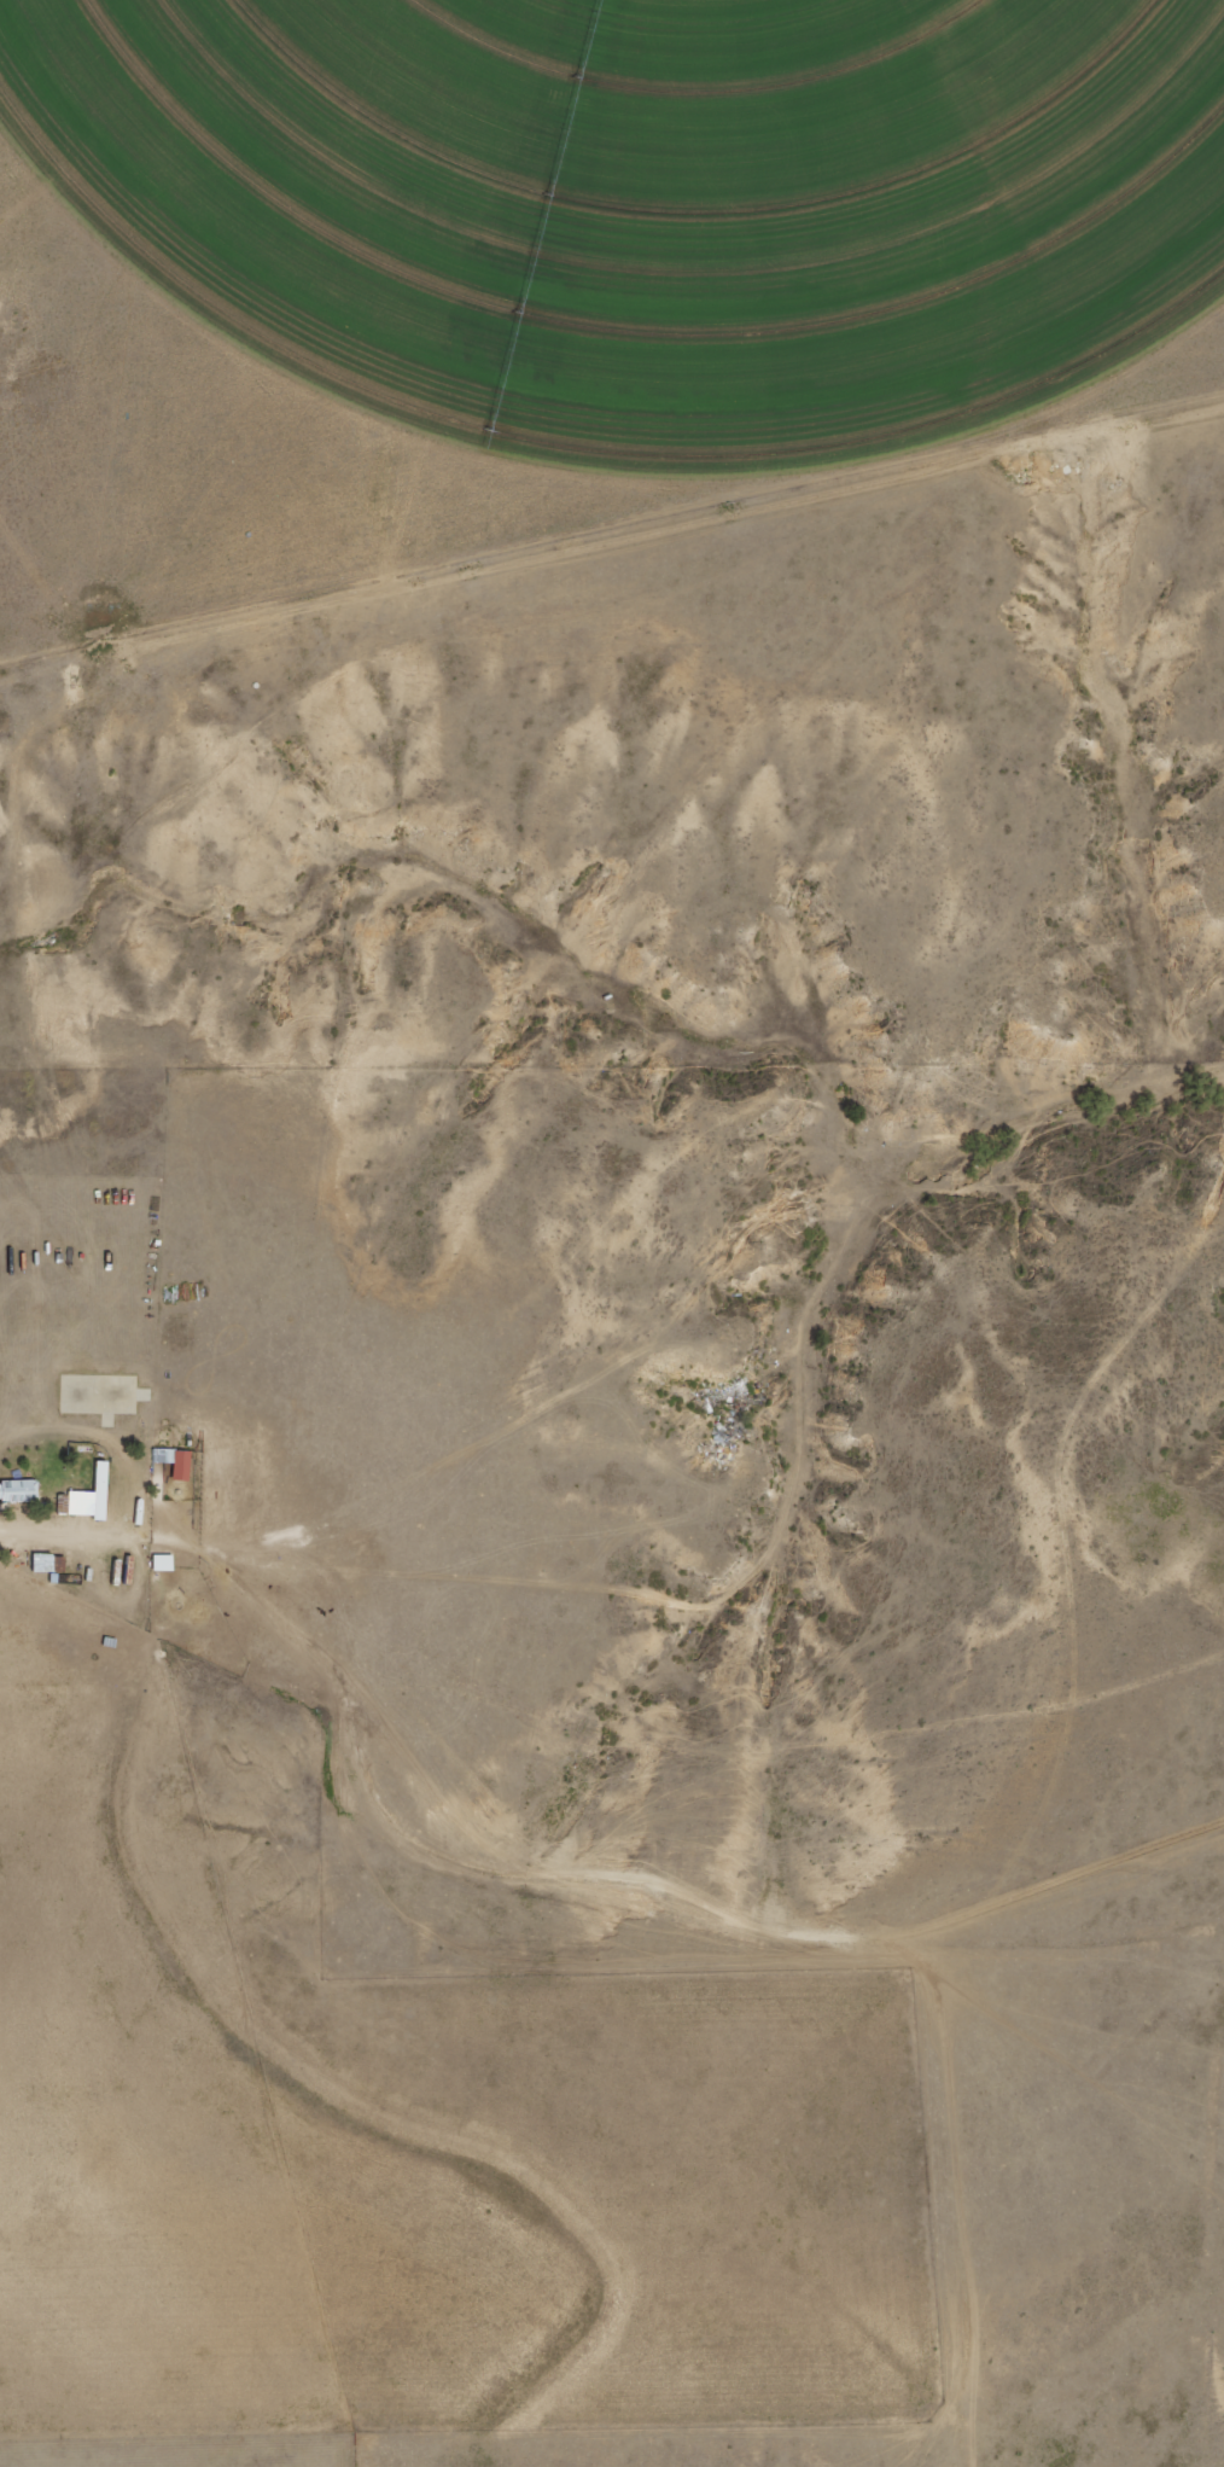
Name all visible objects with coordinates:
building: (177, 1461)
building: (103, 1489)
building: (21, 1490)
building: (164, 1563)

